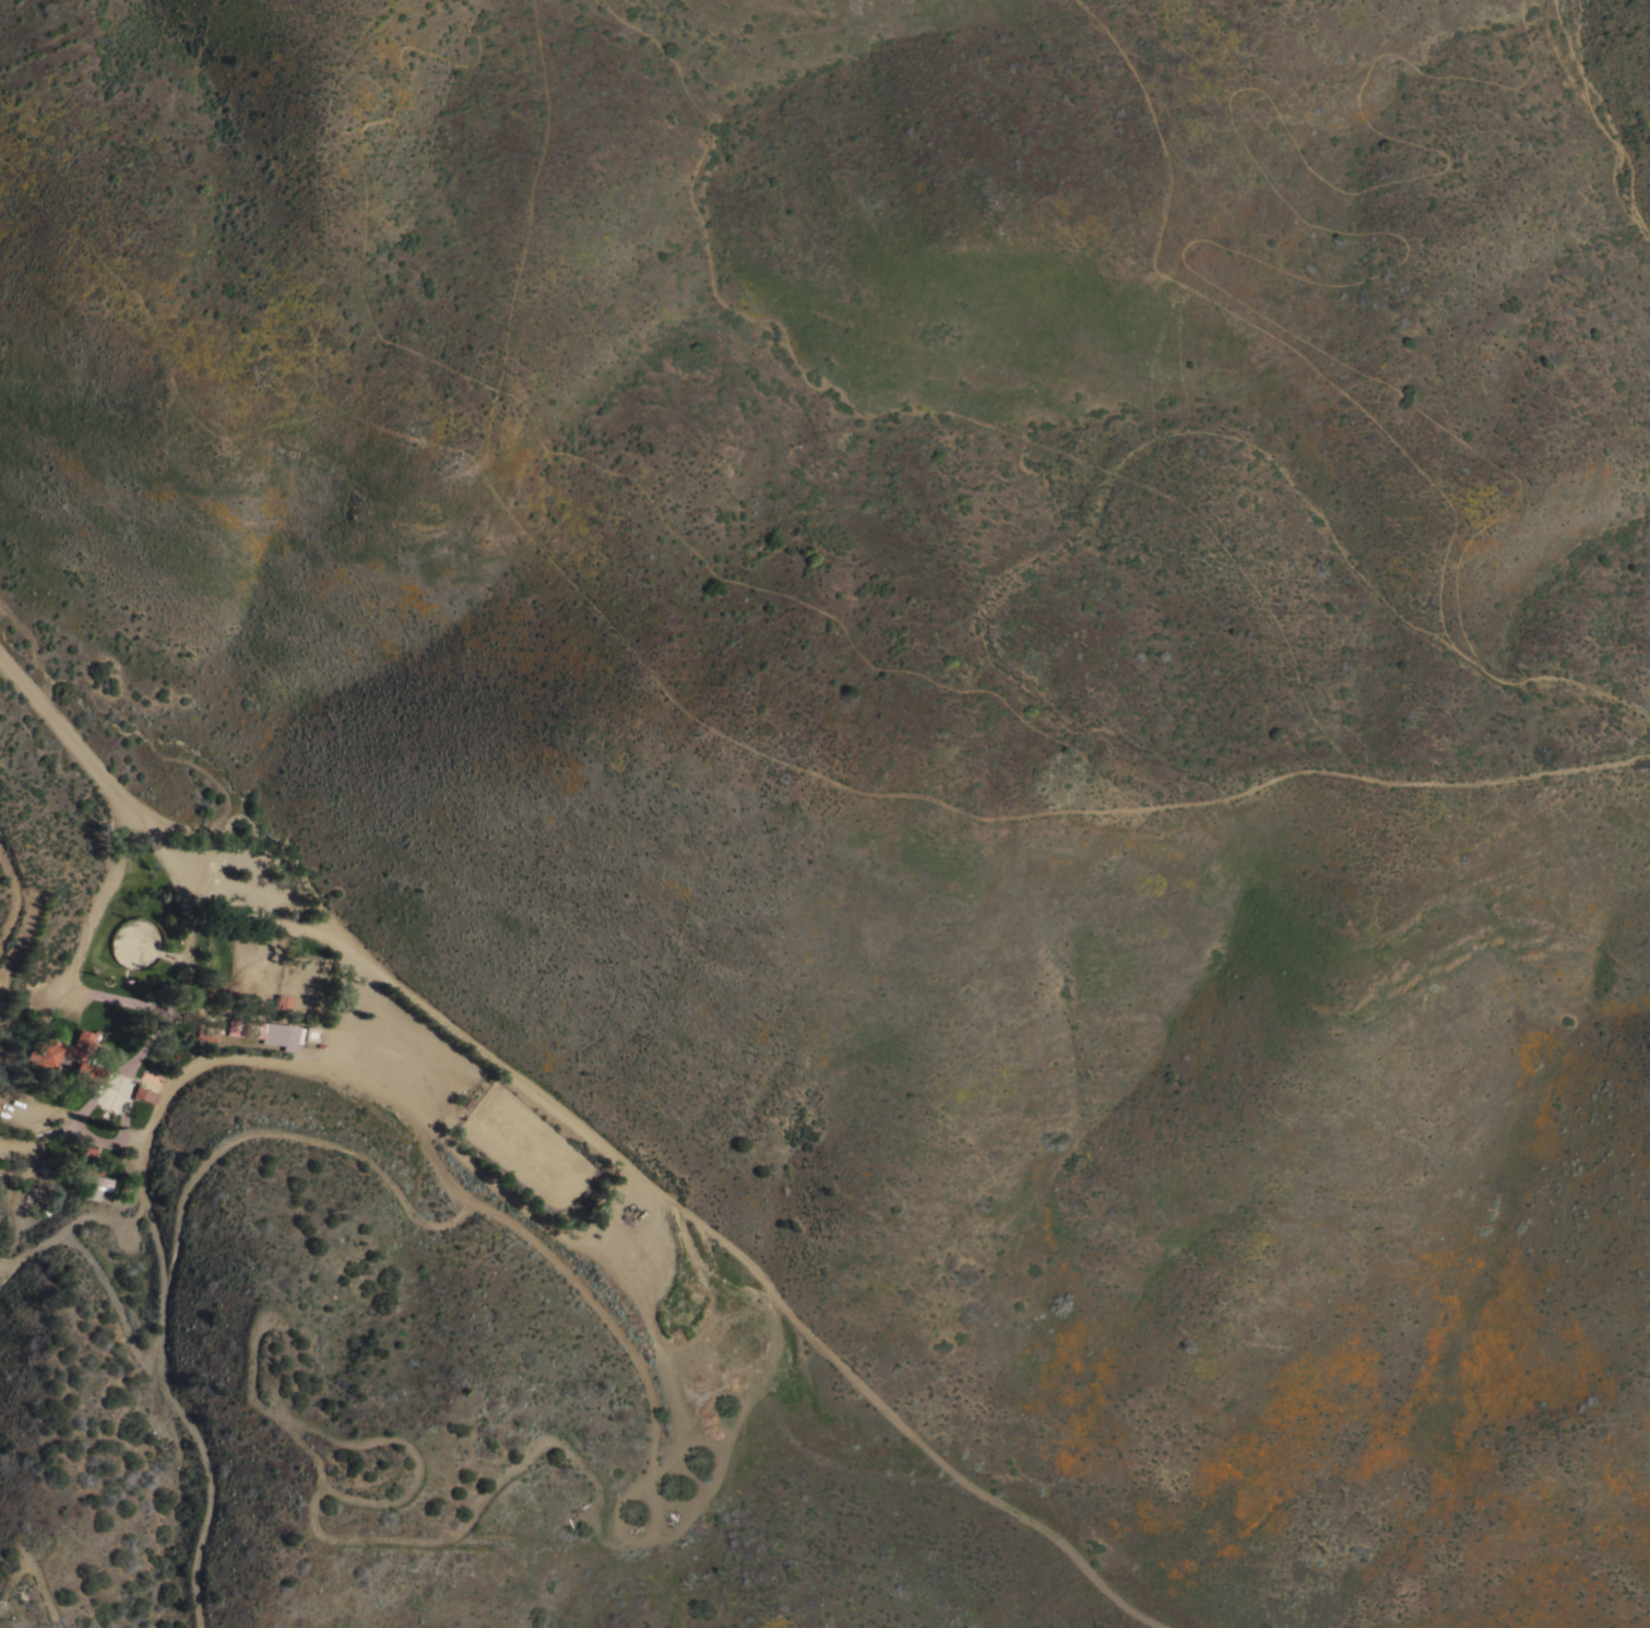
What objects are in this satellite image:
road: (11, 896)
building: (282, 1002)
building: (257, 1030)
building: (206, 1031)
building: (309, 1033)
building: (37, 1057)
road: (121, 1084)
building: (144, 1094)
building: (93, 1168)
building: (91, 1180)
building: (90, 1193)
road: (102, 1216)
road: (545, 1227)

